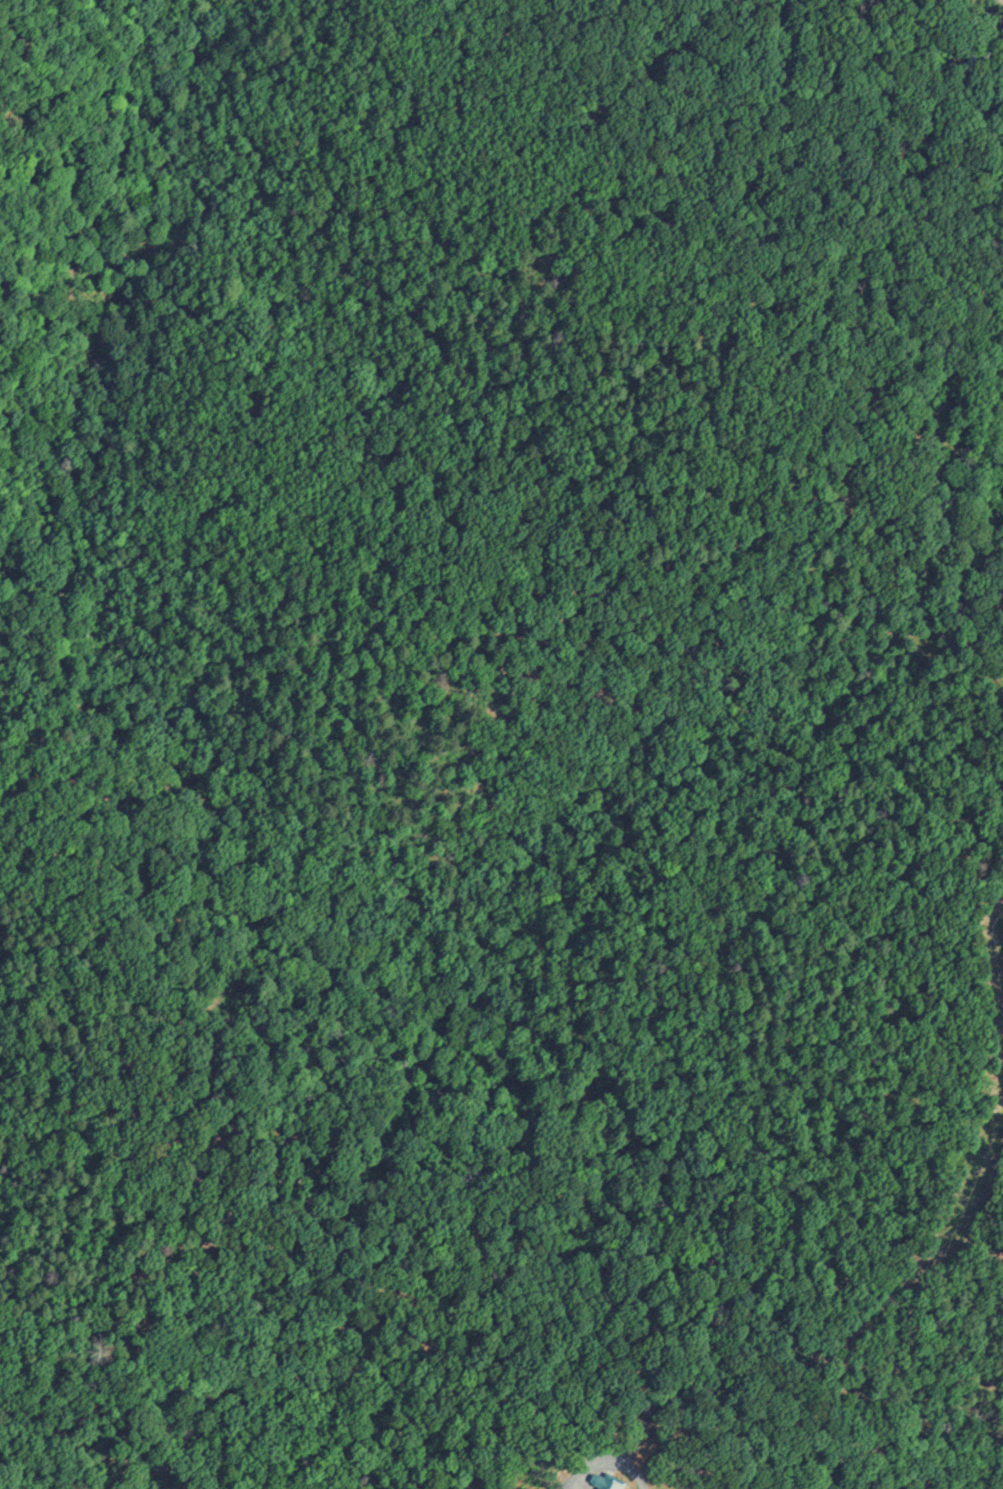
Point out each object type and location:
road: (1001, 0)
road: (949, 676)
road: (599, 1422)

